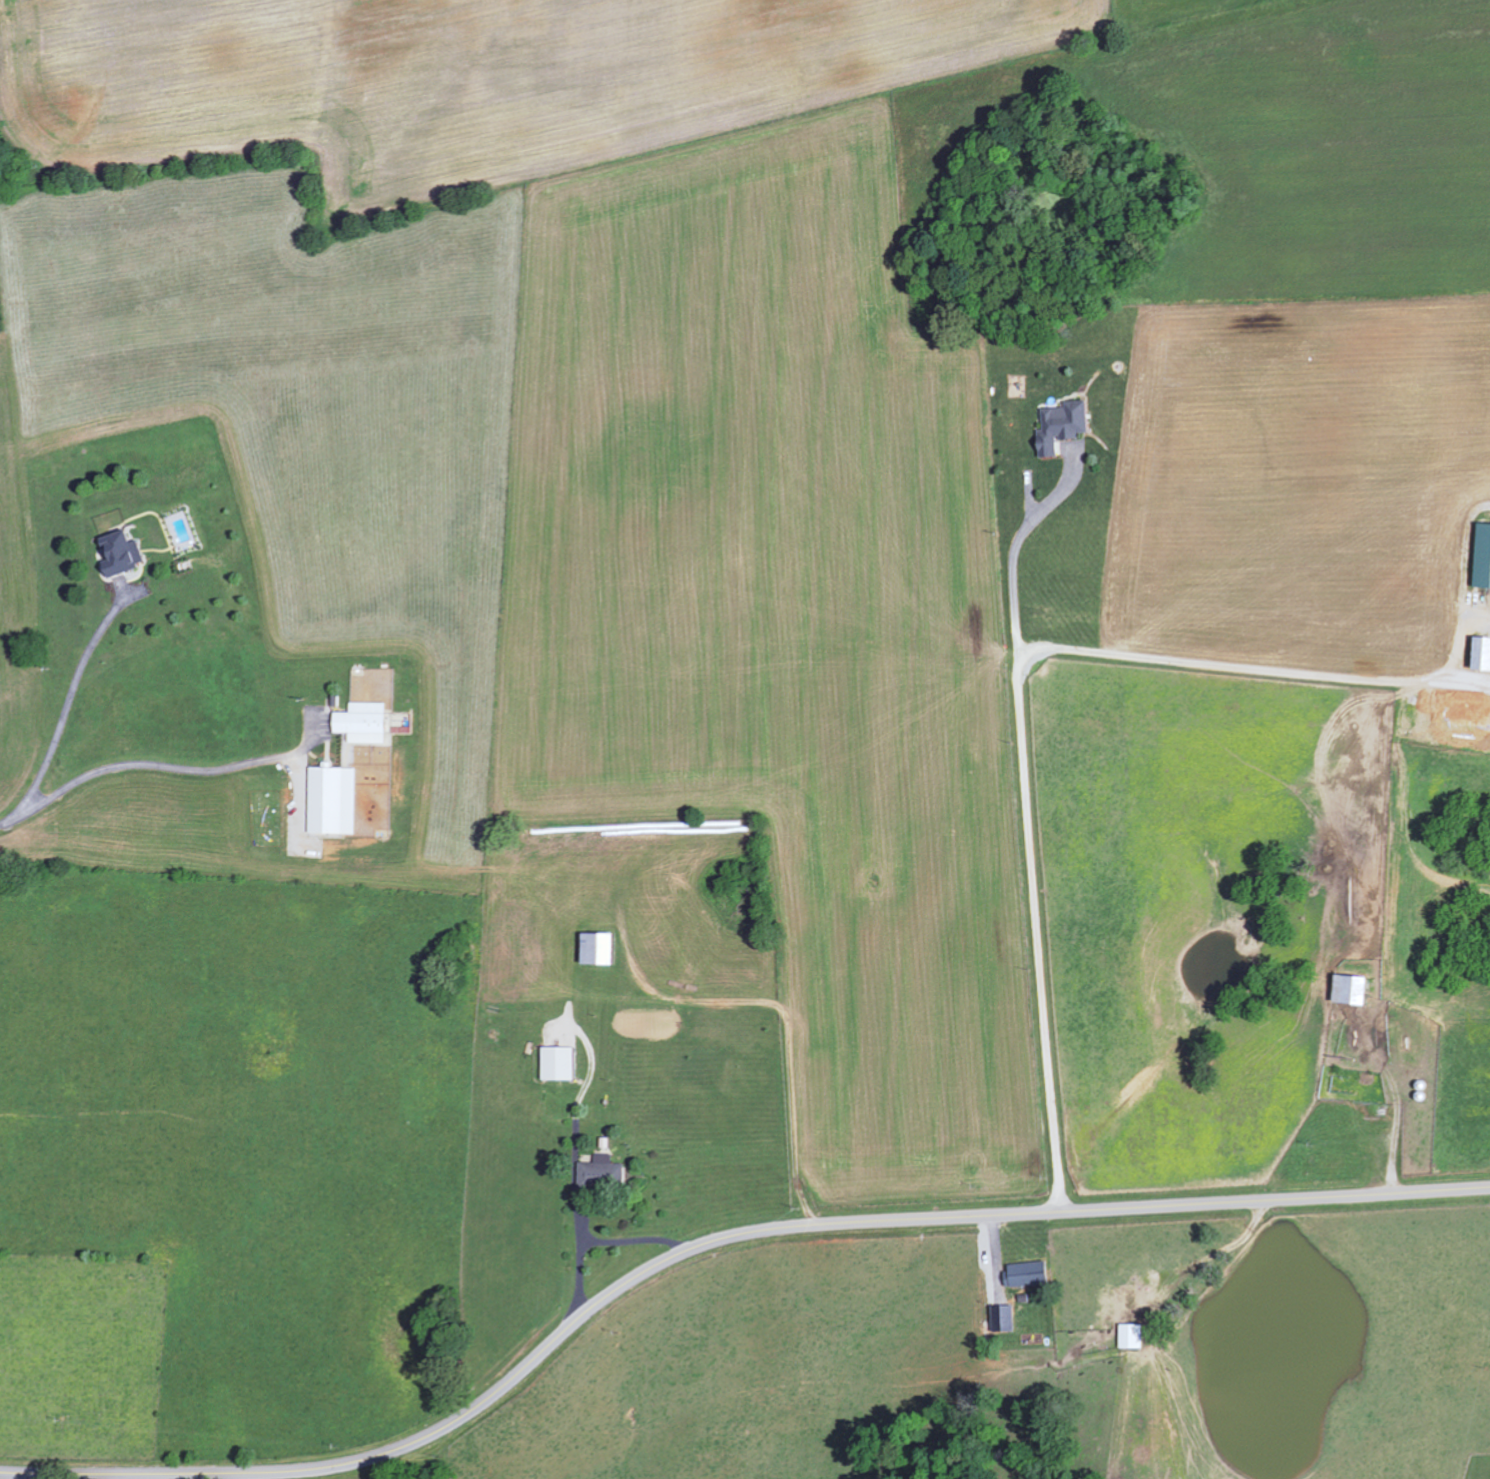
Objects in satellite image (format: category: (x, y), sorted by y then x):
road: (1014, 546)
building: (120, 553)
building: (1481, 557)
building: (1480, 654)
road: (1015, 698)
road: (66, 714)
building: (361, 723)
road: (149, 765)
building: (331, 801)
building: (594, 949)
building: (1348, 990)
road: (790, 1023)
building: (556, 1064)
road: (575, 1115)
building: (599, 1173)
road: (603, 1241)
road: (714, 1246)
building: (1025, 1274)
building: (1001, 1319)
building: (1129, 1336)
road: (37, 1474)

